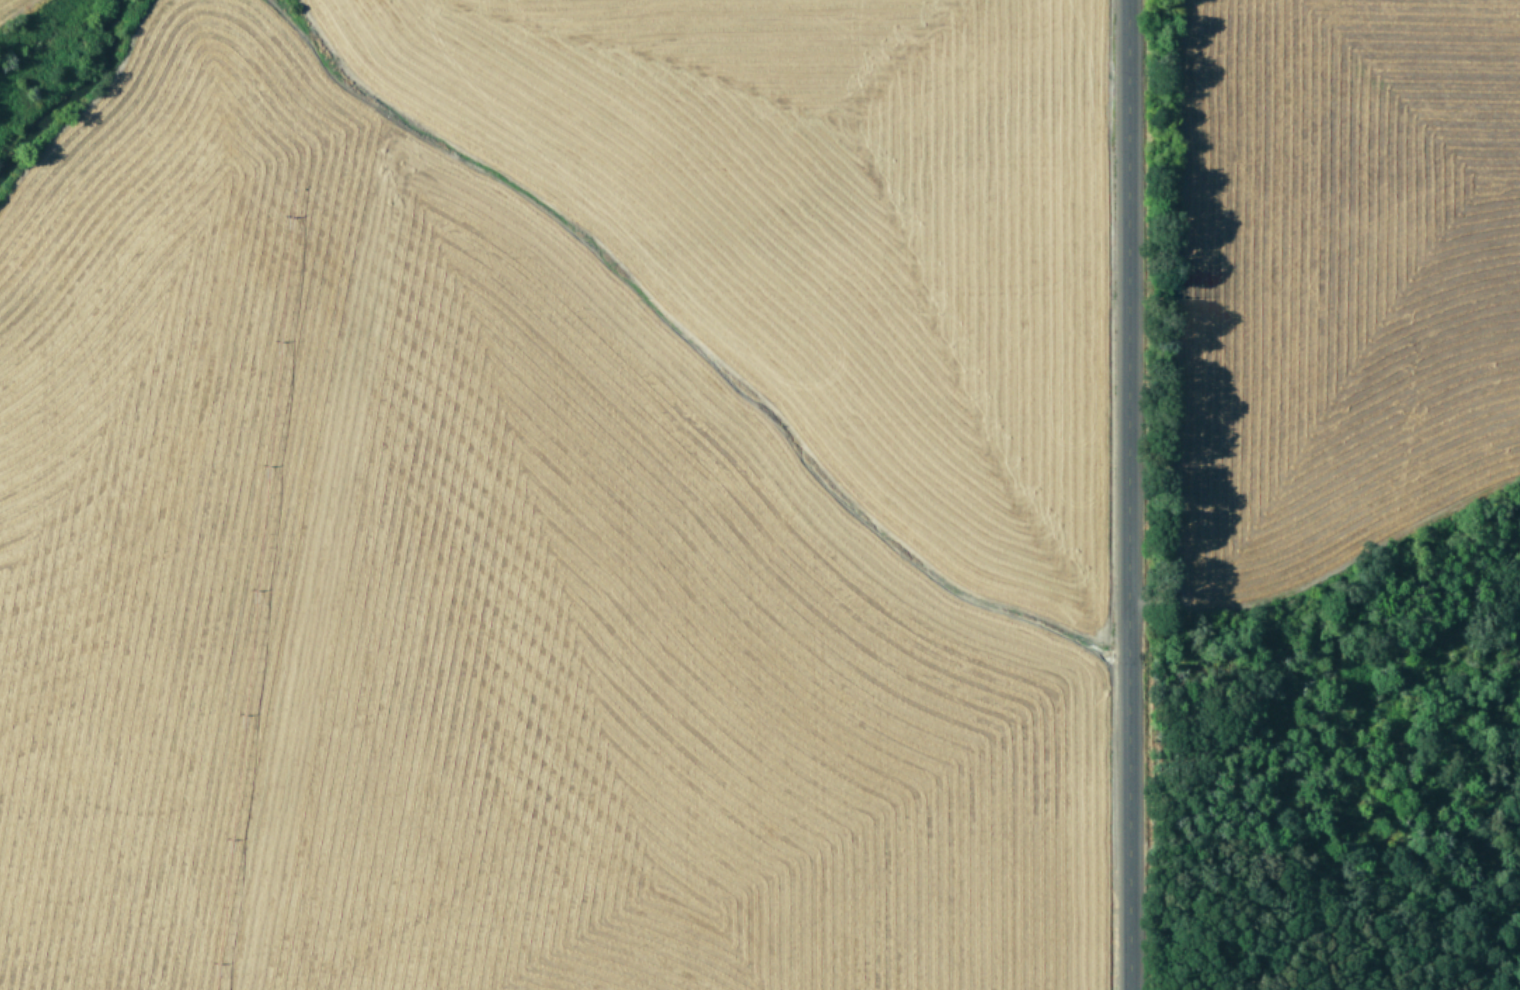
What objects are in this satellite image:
crop: (0, 0)
road: (1119, 494)

